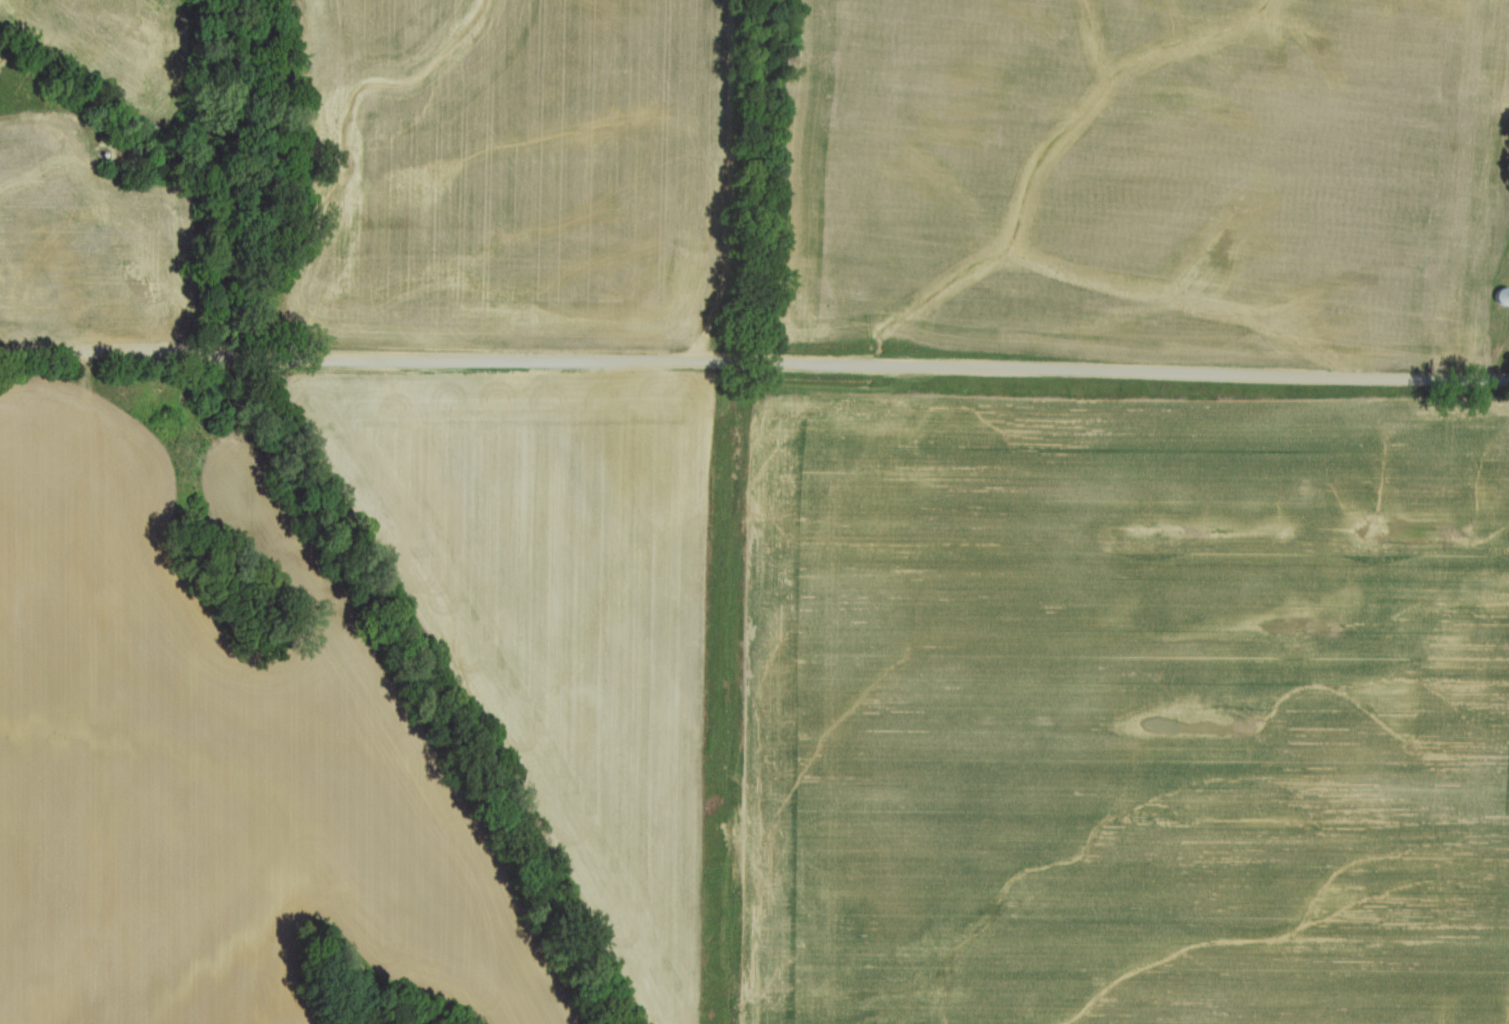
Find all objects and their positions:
road: (725, 183)
building: (1507, 297)
road: (754, 362)

